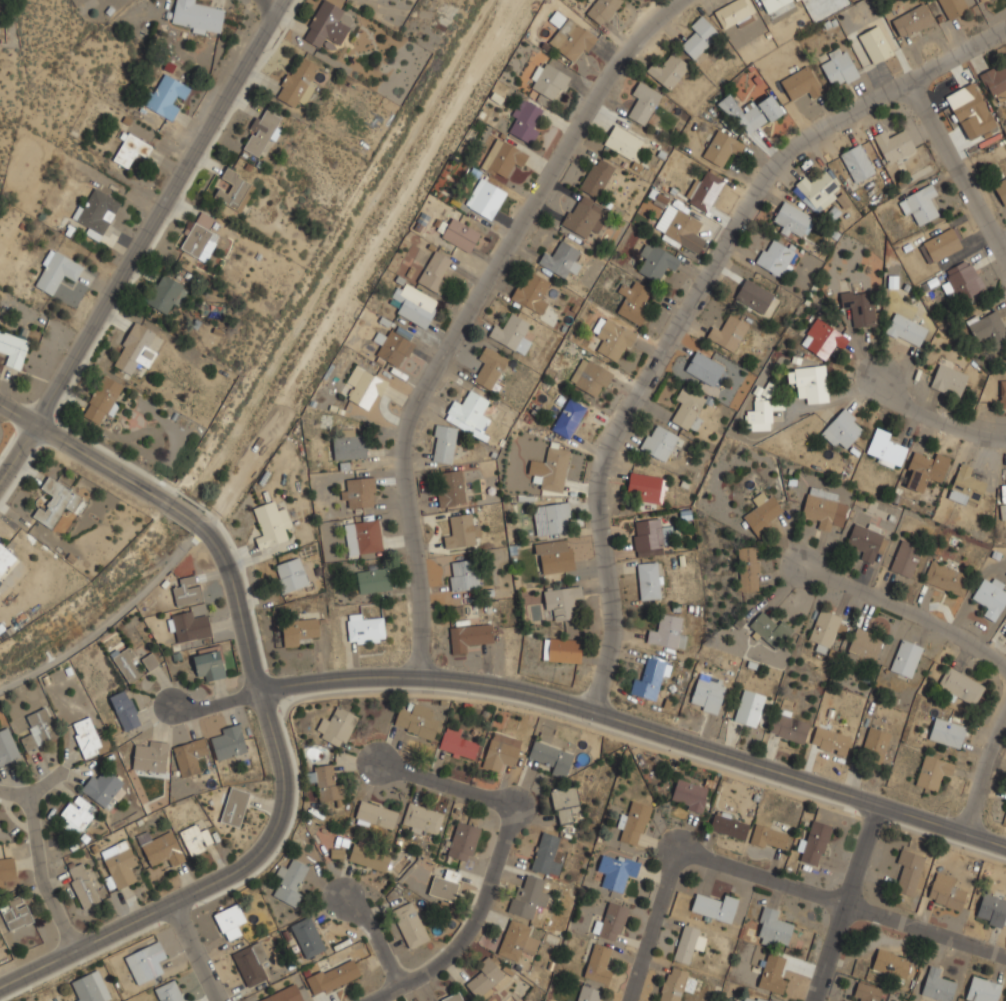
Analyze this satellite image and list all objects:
building: (980, 0)
road: (274, 3)
building: (775, 3)
building: (955, 7)
building: (603, 10)
building: (736, 13)
building: (198, 17)
building: (913, 20)
building: (329, 25)
building: (701, 36)
building: (573, 39)
building: (876, 44)
building: (840, 67)
building: (669, 70)
building: (551, 78)
building: (299, 80)
building: (996, 82)
building: (802, 83)
building: (167, 96)
building: (644, 102)
building: (974, 109)
building: (754, 112)
building: (527, 120)
building: (261, 133)
building: (625, 142)
building: (895, 145)
building: (722, 147)
building: (131, 150)
building: (504, 158)
building: (858, 163)
road: (955, 175)
building: (598, 177)
building: (235, 190)
building: (1001, 190)
building: (705, 191)
building: (819, 191)
building: (486, 198)
building: (920, 204)
building: (97, 212)
building: (583, 216)
building: (794, 220)
building: (681, 228)
building: (461, 235)
building: (201, 236)
road: (142, 240)
building: (942, 245)
road: (1001, 248)
building: (777, 256)
building: (561, 259)
building: (657, 260)
building: (436, 270)
building: (57, 271)
building: (963, 280)
building: (532, 291)
building: (167, 294)
building: (754, 295)
building: (634, 300)
building: (416, 304)
road: (693, 305)
building: (860, 307)
road: (469, 311)
building: (989, 327)
building: (907, 330)
building: (730, 331)
building: (514, 334)
building: (614, 338)
building: (824, 338)
building: (394, 347)
building: (13, 348)
building: (138, 348)
building: (490, 367)
building: (705, 368)
building: (592, 377)
building: (950, 380)
building: (811, 383)
building: (366, 387)
building: (1003, 394)
building: (103, 398)
building: (689, 410)
road: (941, 410)
building: (469, 411)
building: (760, 415)
building: (569, 418)
building: (843, 429)
building: (660, 442)
building: (444, 443)
building: (350, 445)
building: (886, 449)
road: (84, 452)
building: (554, 469)
building: (926, 470)
building: (647, 487)
building: (966, 487)
building: (451, 488)
building: (359, 492)
building: (57, 502)
building: (824, 507)
building: (764, 512)
road: (184, 513)
building: (551, 517)
building: (272, 524)
building: (464, 531)
building: (650, 534)
building: (367, 537)
building: (867, 542)
building: (555, 556)
building: (5, 559)
building: (906, 559)
building: (749, 569)
building: (291, 574)
building: (464, 574)
building: (947, 578)
building: (375, 580)
building: (650, 580)
building: (188, 591)
building: (992, 597)
building: (562, 601)
road: (906, 608)
building: (190, 626)
building: (366, 628)
building: (770, 628)
building: (826, 630)
building: (301, 631)
building: (668, 633)
building: (1005, 634)
building: (470, 636)
building: (866, 645)
building: (563, 650)
building: (907, 658)
building: (150, 661)
building: (210, 663)
building: (128, 664)
building: (650, 680)
building: (961, 685)
building: (708, 695)
road: (214, 702)
building: (751, 708)
building: (125, 710)
building: (417, 721)
road: (637, 723)
building: (790, 726)
building: (337, 727)
building: (39, 729)
building: (948, 733)
building: (89, 738)
building: (830, 740)
building: (229, 743)
building: (876, 743)
building: (460, 745)
building: (7, 747)
building: (502, 752)
building: (150, 756)
building: (191, 756)
building: (552, 758)
building: (933, 771)
road: (985, 772)
road: (48, 782)
building: (327, 782)
building: (104, 788)
building: (690, 795)
building: (565, 803)
building: (235, 807)
building: (1005, 808)
building: (76, 814)
building: (377, 815)
building: (422, 820)
building: (634, 823)
building: (729, 825)
road: (276, 830)
building: (769, 838)
building: (196, 839)
building: (464, 842)
building: (815, 844)
building: (161, 849)
building: (337, 853)
building: (547, 854)
building: (371, 858)
road: (46, 860)
road: (496, 860)
building: (120, 864)
building: (7, 871)
building: (617, 871)
building: (909, 873)
road: (765, 877)
building: (291, 881)
building: (83, 885)
building: (446, 885)
building: (946, 891)
building: (529, 897)
road: (845, 902)
building: (715, 907)
building: (993, 909)
building: (16, 913)
building: (230, 921)
building: (613, 922)
building: (411, 925)
building: (773, 928)
road: (373, 936)
building: (308, 937)
building: (514, 939)
building: (690, 943)
road: (196, 953)
building: (146, 962)
building: (251, 963)
building: (892, 963)
building: (598, 964)
building: (773, 973)
building: (334, 977)
building: (485, 977)
building: (677, 983)
building: (938, 986)
building: (90, 988)
building: (983, 989)
building: (170, 992)
building: (867, 992)
building: (590, 993)
building: (283, 995)
building: (454, 997)
building: (756, 999)
building: (567, 1000)
building: (571, 1000)
building: (737, 1000)

